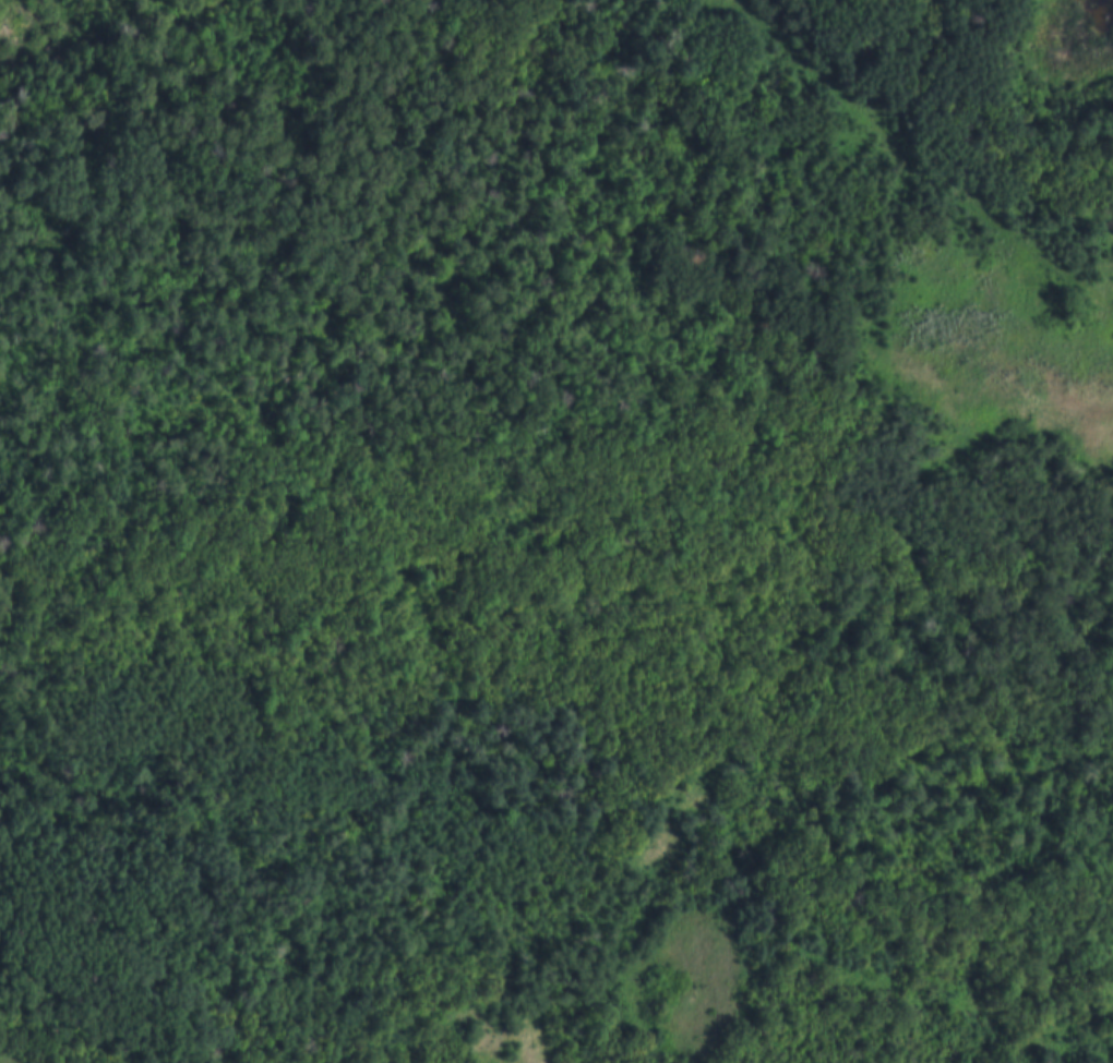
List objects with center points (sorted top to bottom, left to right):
road: (918, 165)

